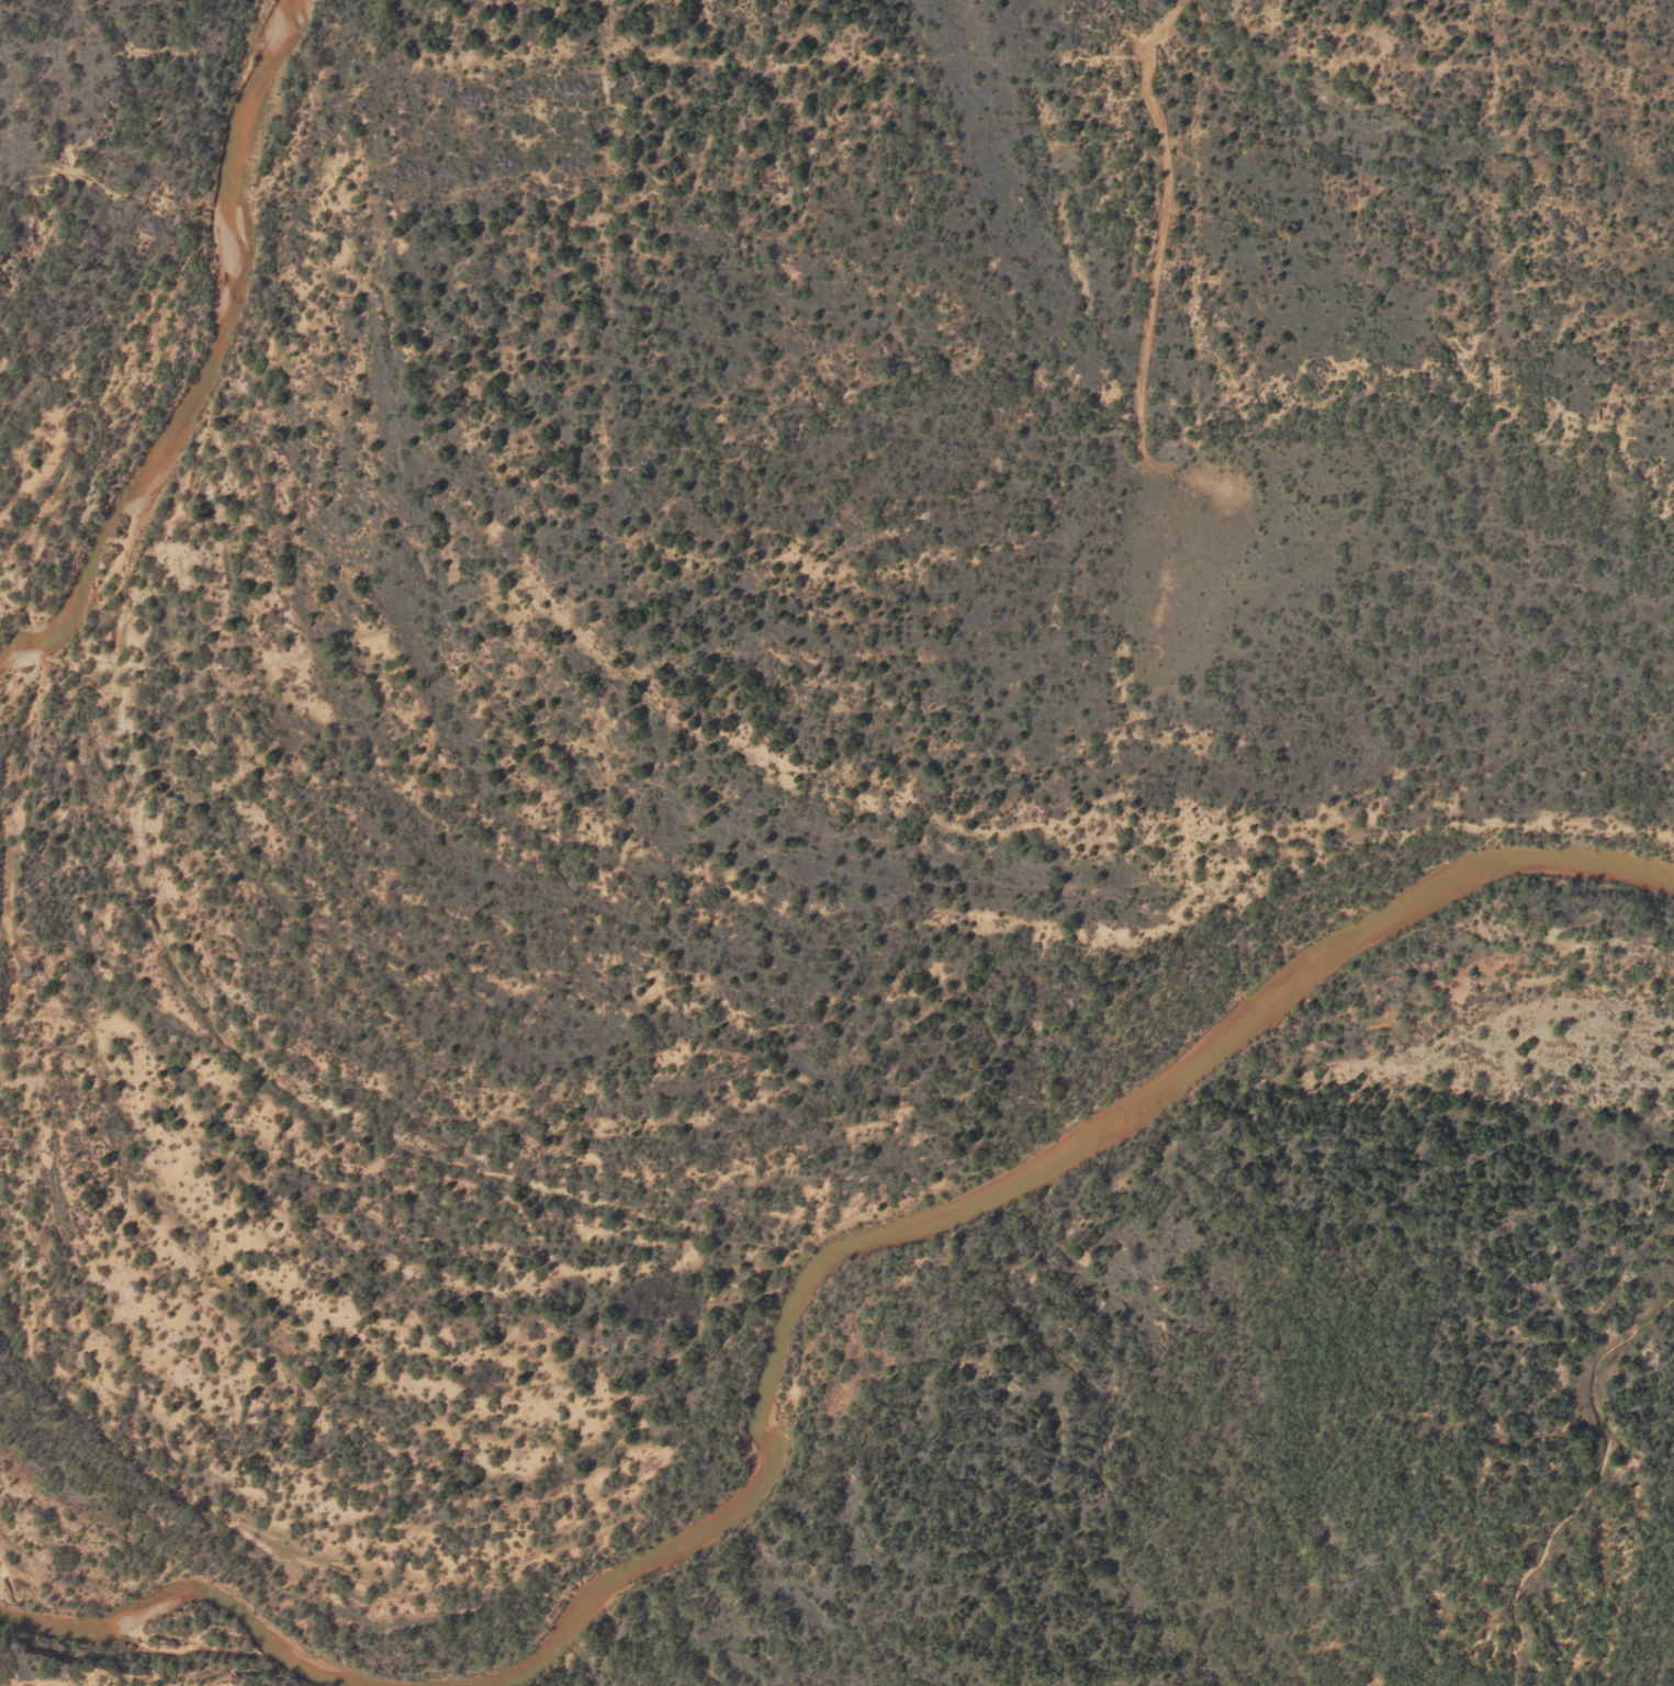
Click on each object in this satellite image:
river: (209, 366)
river: (1004, 1190)
river: (200, 1596)

